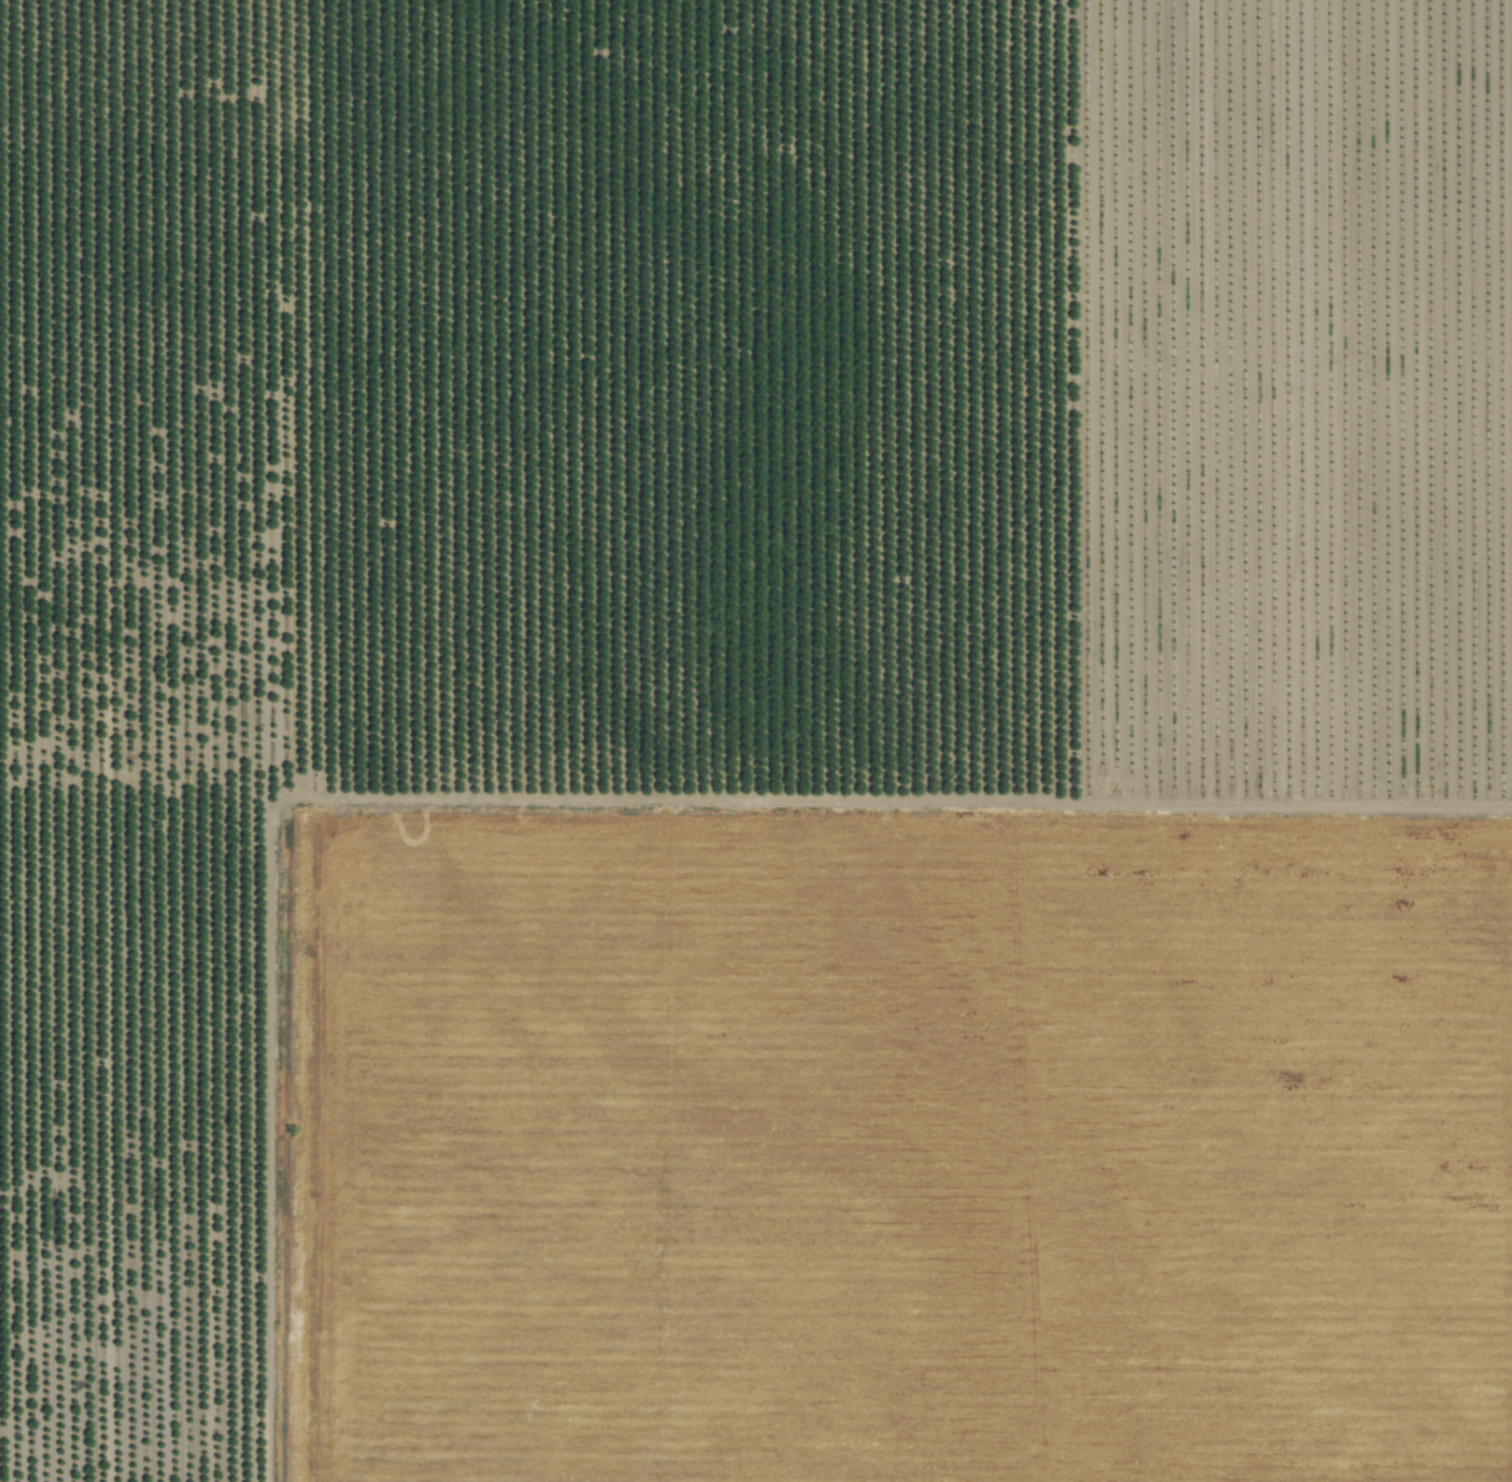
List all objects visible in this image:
road: (149, 113)
road: (299, 545)

